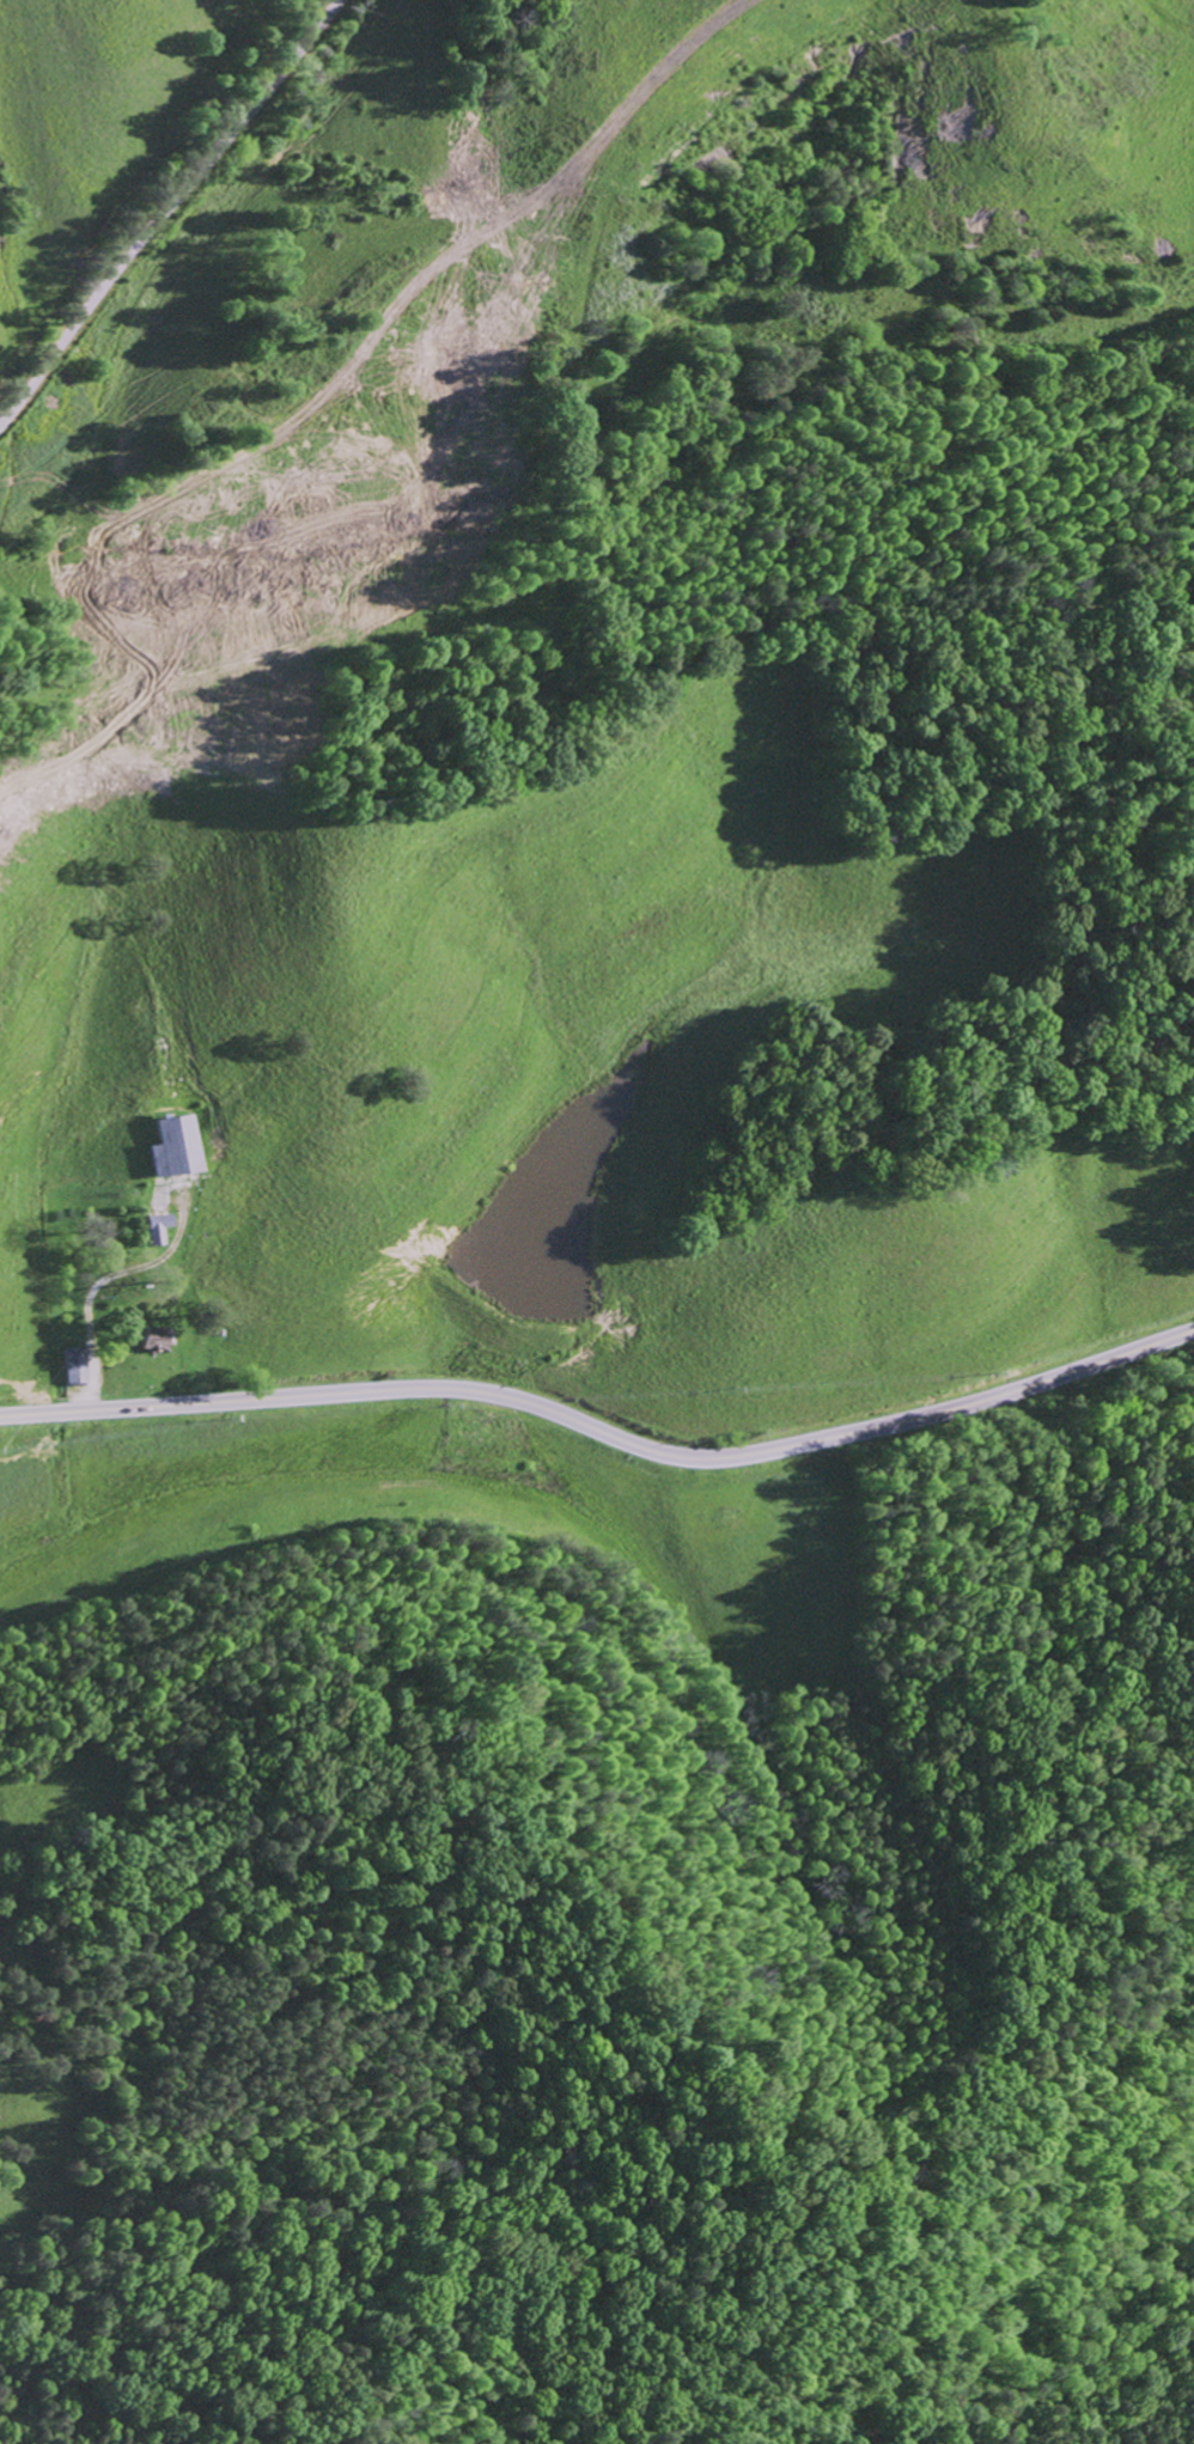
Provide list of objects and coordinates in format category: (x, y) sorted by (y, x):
road: (167, 206)
road: (386, 464)
building: (176, 1146)
building: (157, 1226)
building: (154, 1337)
building: (75, 1364)
road: (603, 1432)

